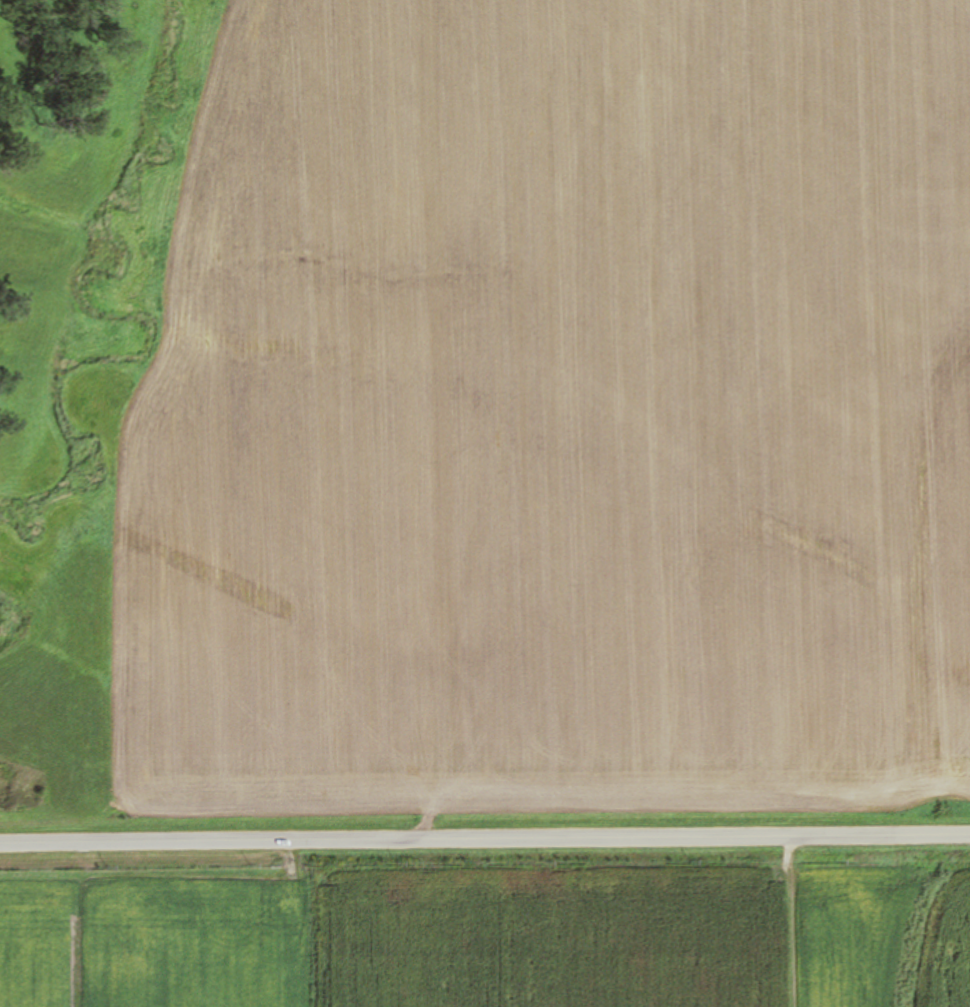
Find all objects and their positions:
road: (485, 842)

